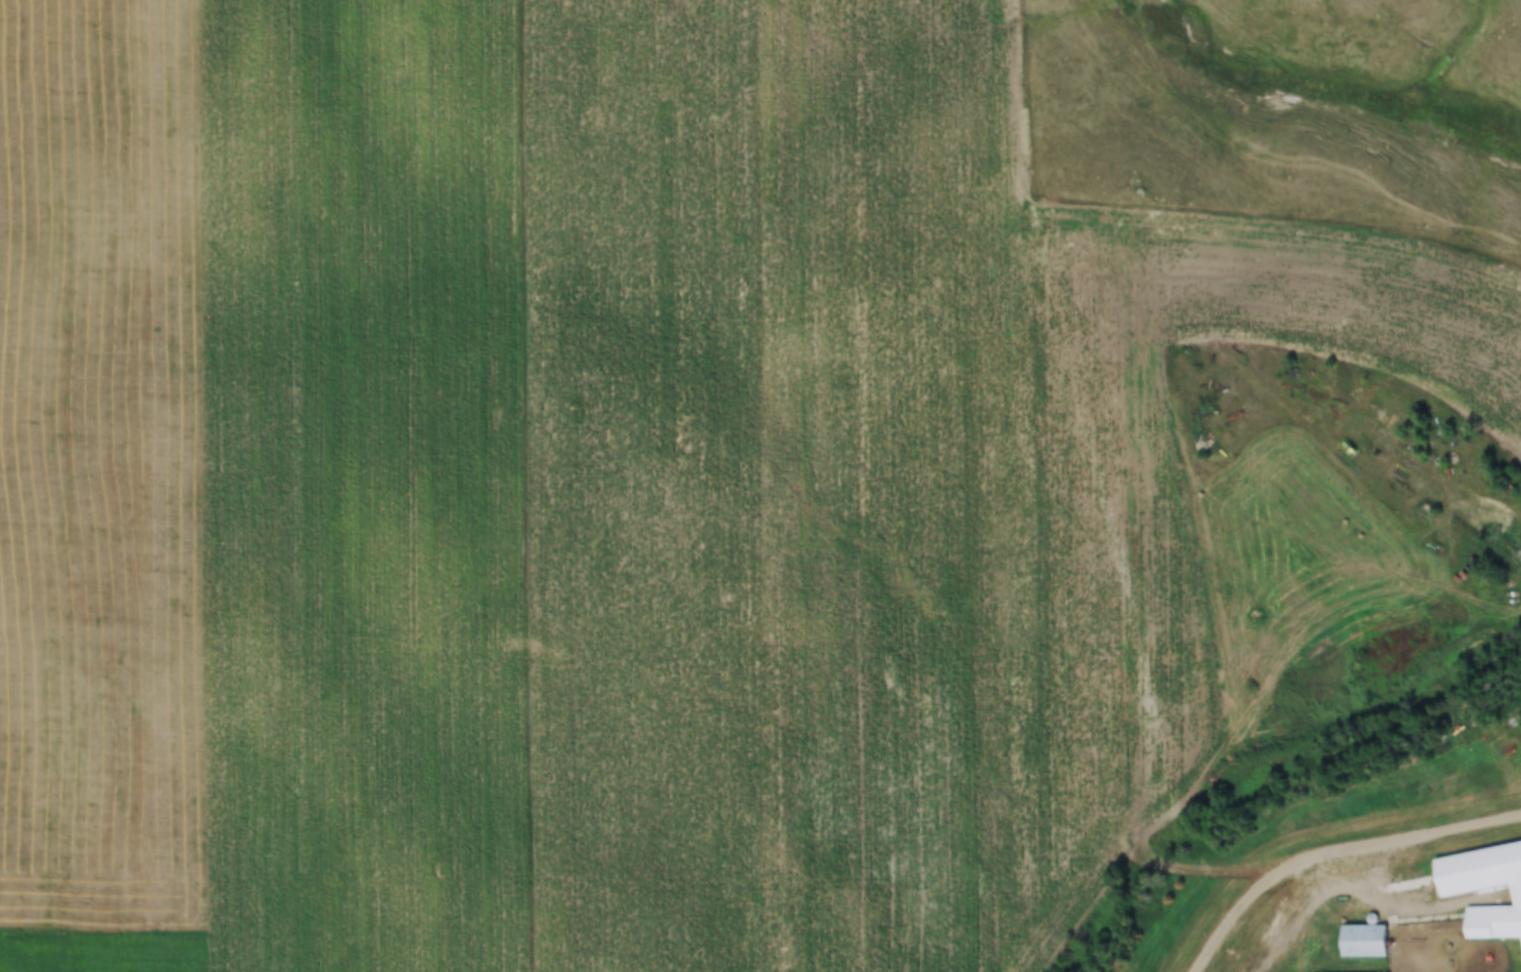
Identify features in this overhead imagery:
road: (1334, 853)
road: (1187, 870)
building: (1484, 887)
road: (1296, 915)
building: (1365, 940)

